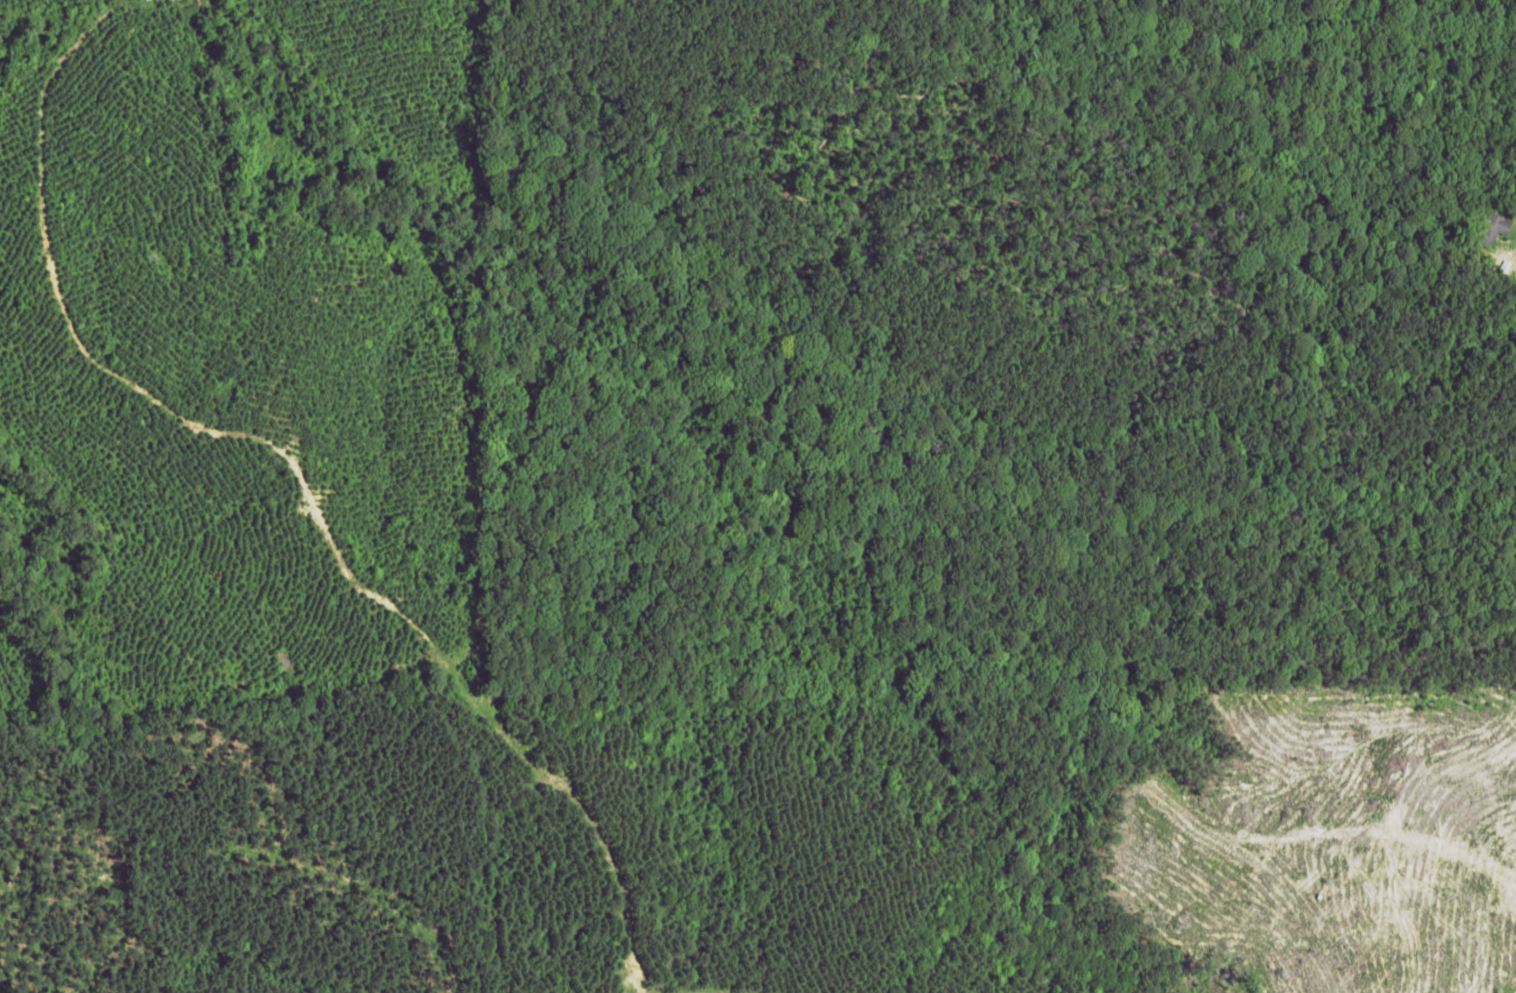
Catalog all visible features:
building: (1492, 232)

